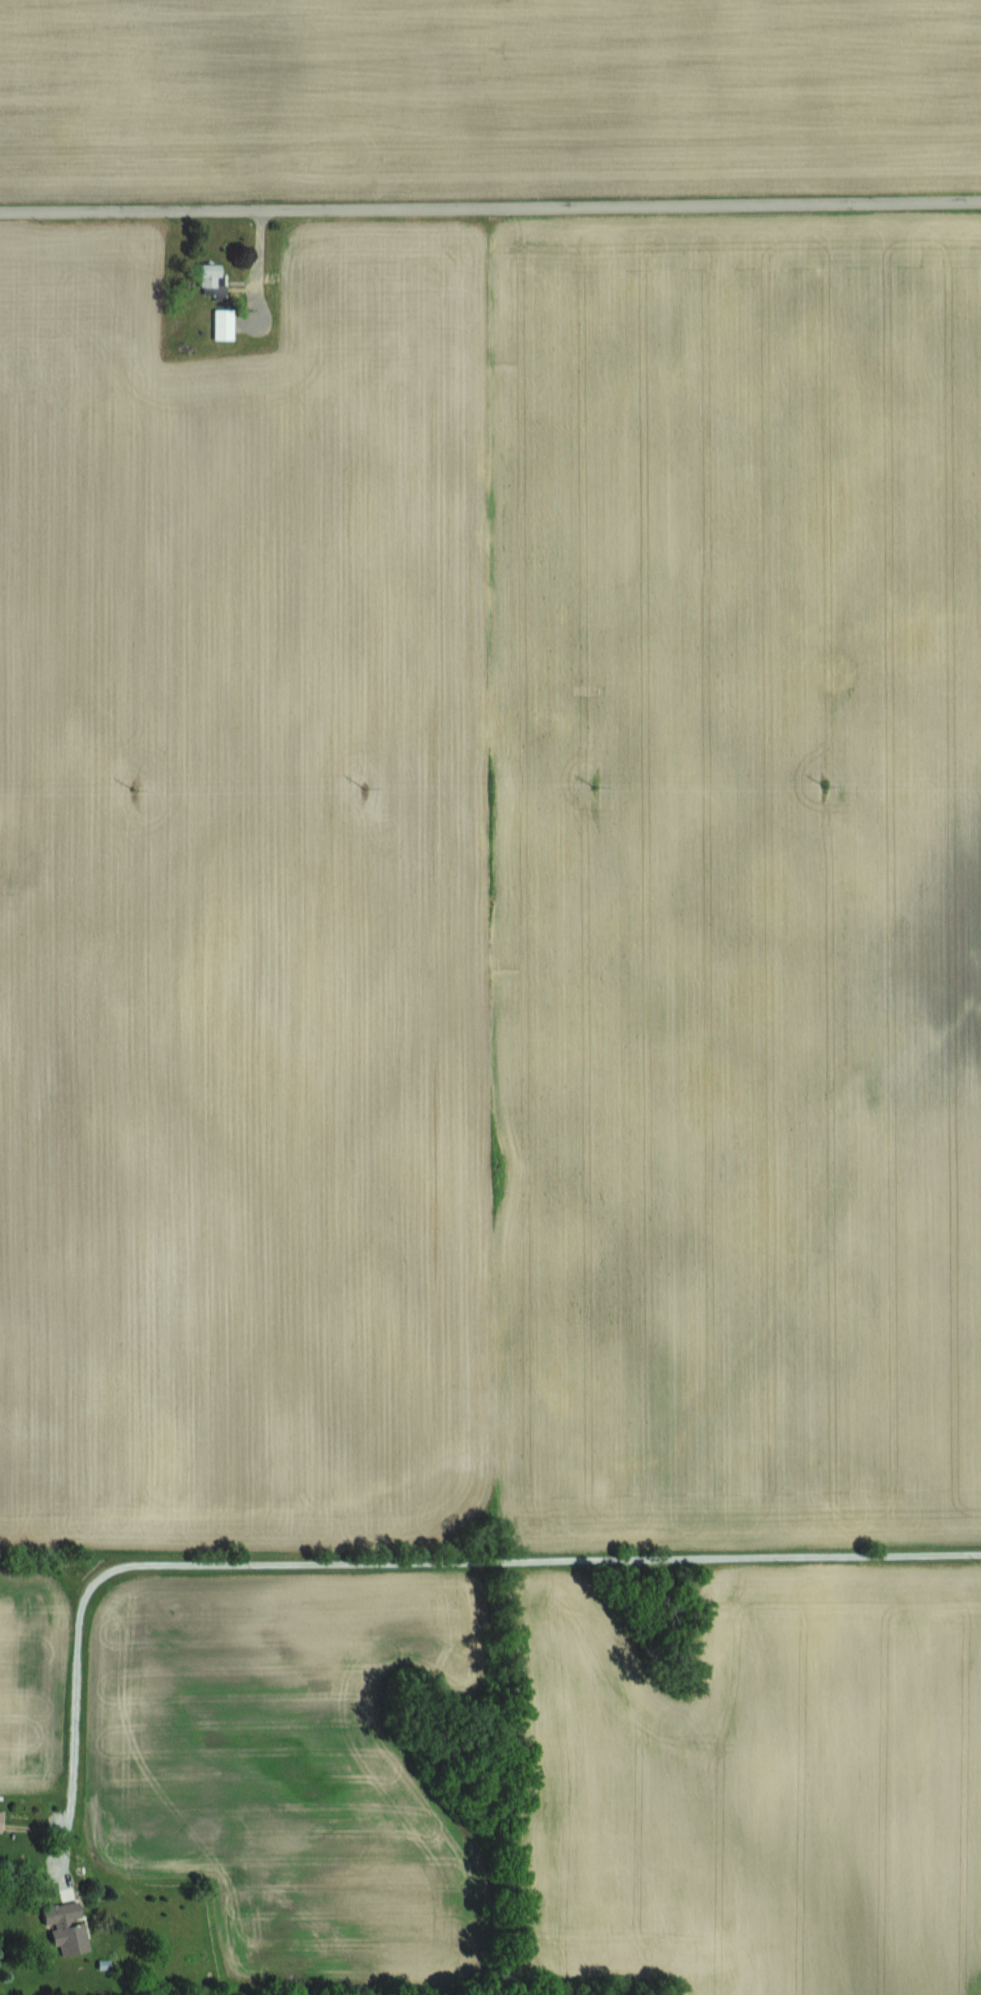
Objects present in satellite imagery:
road: (490, 207)
building: (215, 279)
building: (225, 324)
road: (389, 1562)
building: (2, 1819)
building: (69, 1927)

